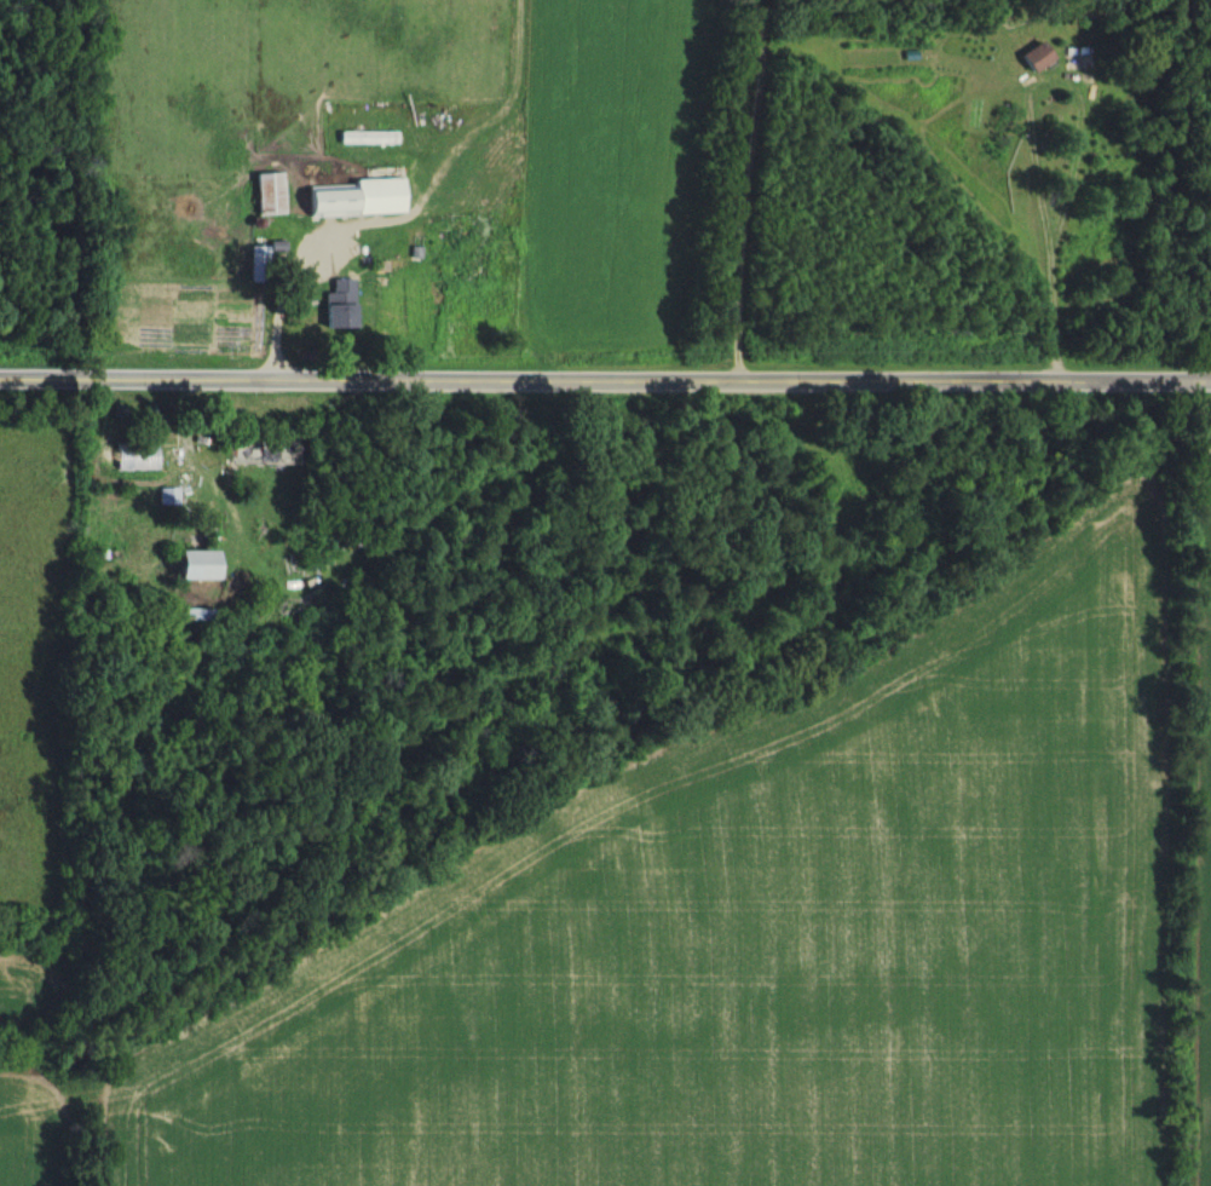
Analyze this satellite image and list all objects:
building: (1077, 57)
building: (881, 58)
building: (1028, 58)
building: (265, 195)
building: (350, 198)
building: (363, 247)
building: (330, 307)
road: (605, 378)
building: (138, 457)
building: (181, 569)
building: (186, 616)

